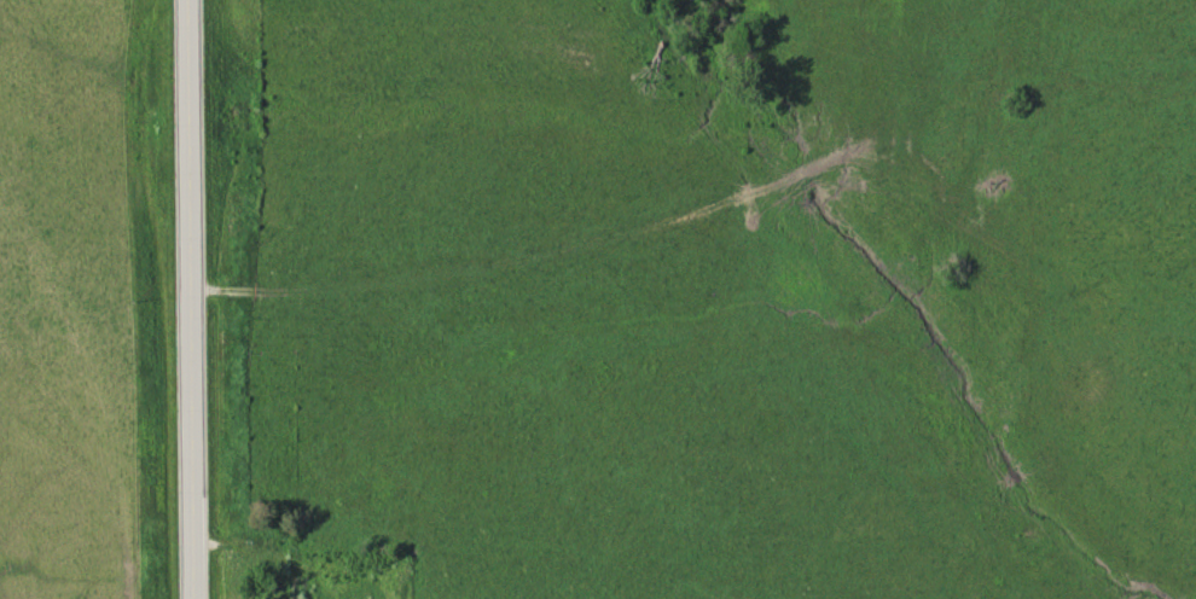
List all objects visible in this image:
road: (190, 299)

